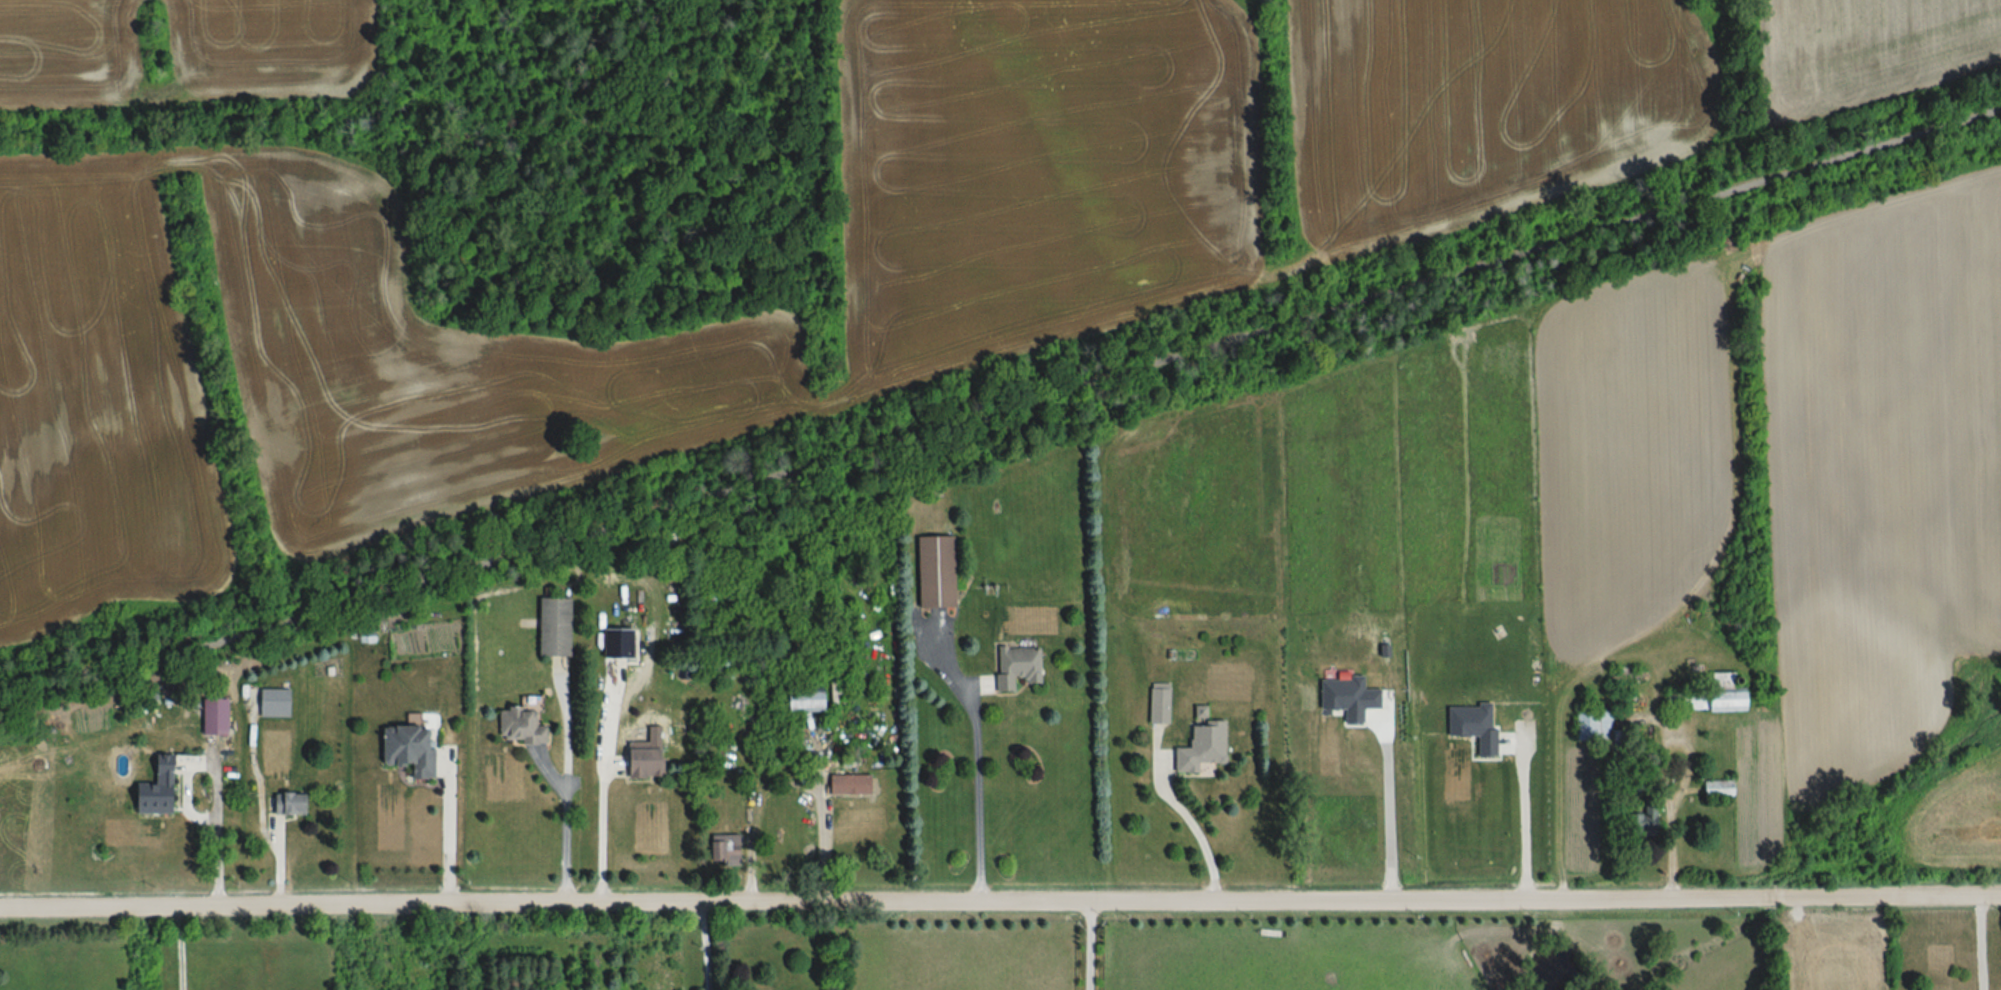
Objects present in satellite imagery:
crop: (271, 47)
crop: (1869, 48)
crop: (65, 55)
crop: (1482, 106)
crop: (1037, 172)
crop: (294, 382)
road: (1000, 409)
crop: (1886, 458)
building: (933, 572)
building: (550, 628)
building: (1015, 668)
building: (1707, 697)
building: (1157, 703)
building: (787, 704)
building: (211, 717)
building: (516, 725)
building: (1198, 748)
building: (405, 750)
road: (975, 757)
building: (637, 763)
road: (566, 783)
building: (846, 785)
building: (1715, 789)
building: (149, 790)
building: (287, 804)
road: (1393, 816)
road: (1189, 817)
building: (1646, 818)
crop: (1957, 820)
road: (1529, 834)
road: (448, 842)
road: (602, 843)
road: (215, 846)
building: (719, 848)
road: (819, 852)
road: (1901, 897)
road: (1783, 898)
road: (882, 905)
road: (1980, 943)
road: (1093, 947)
road: (707, 948)
road: (180, 950)
crop: (1841, 950)

